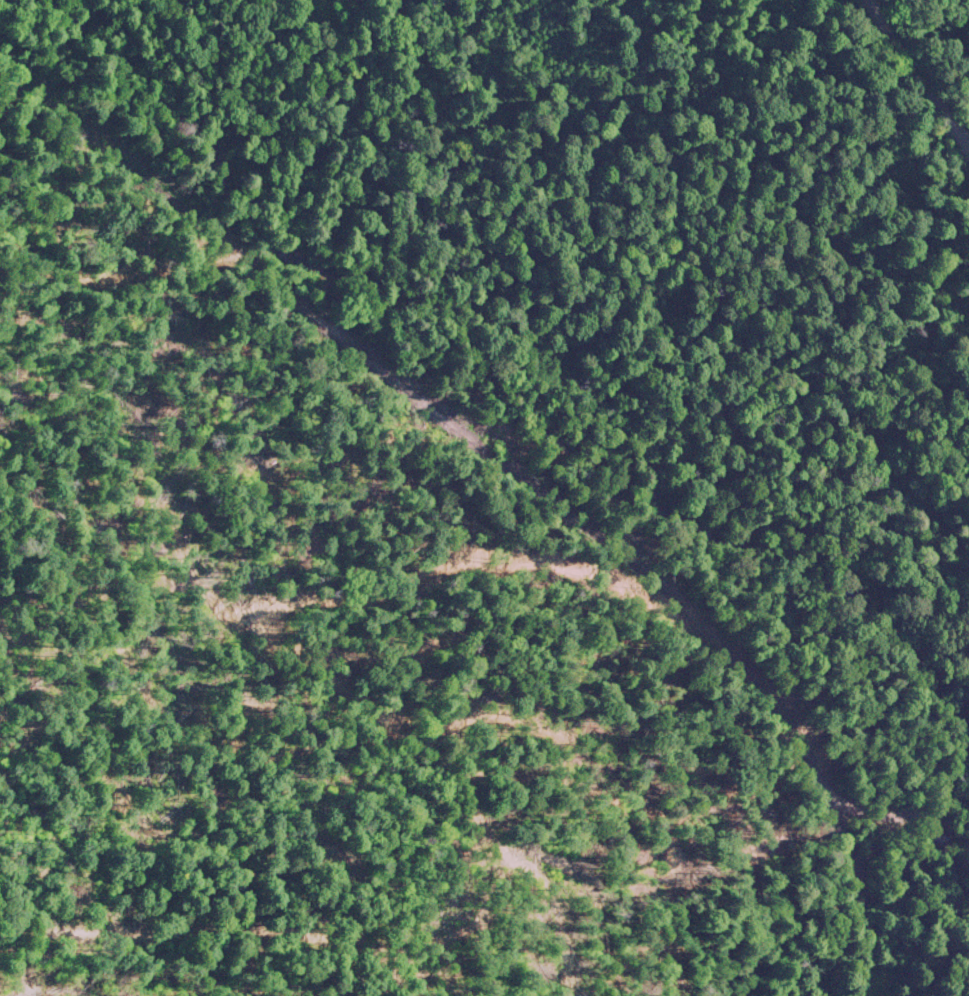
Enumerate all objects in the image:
road: (926, 72)
railway: (467, 430)
railway: (851, 905)
railway: (854, 964)

